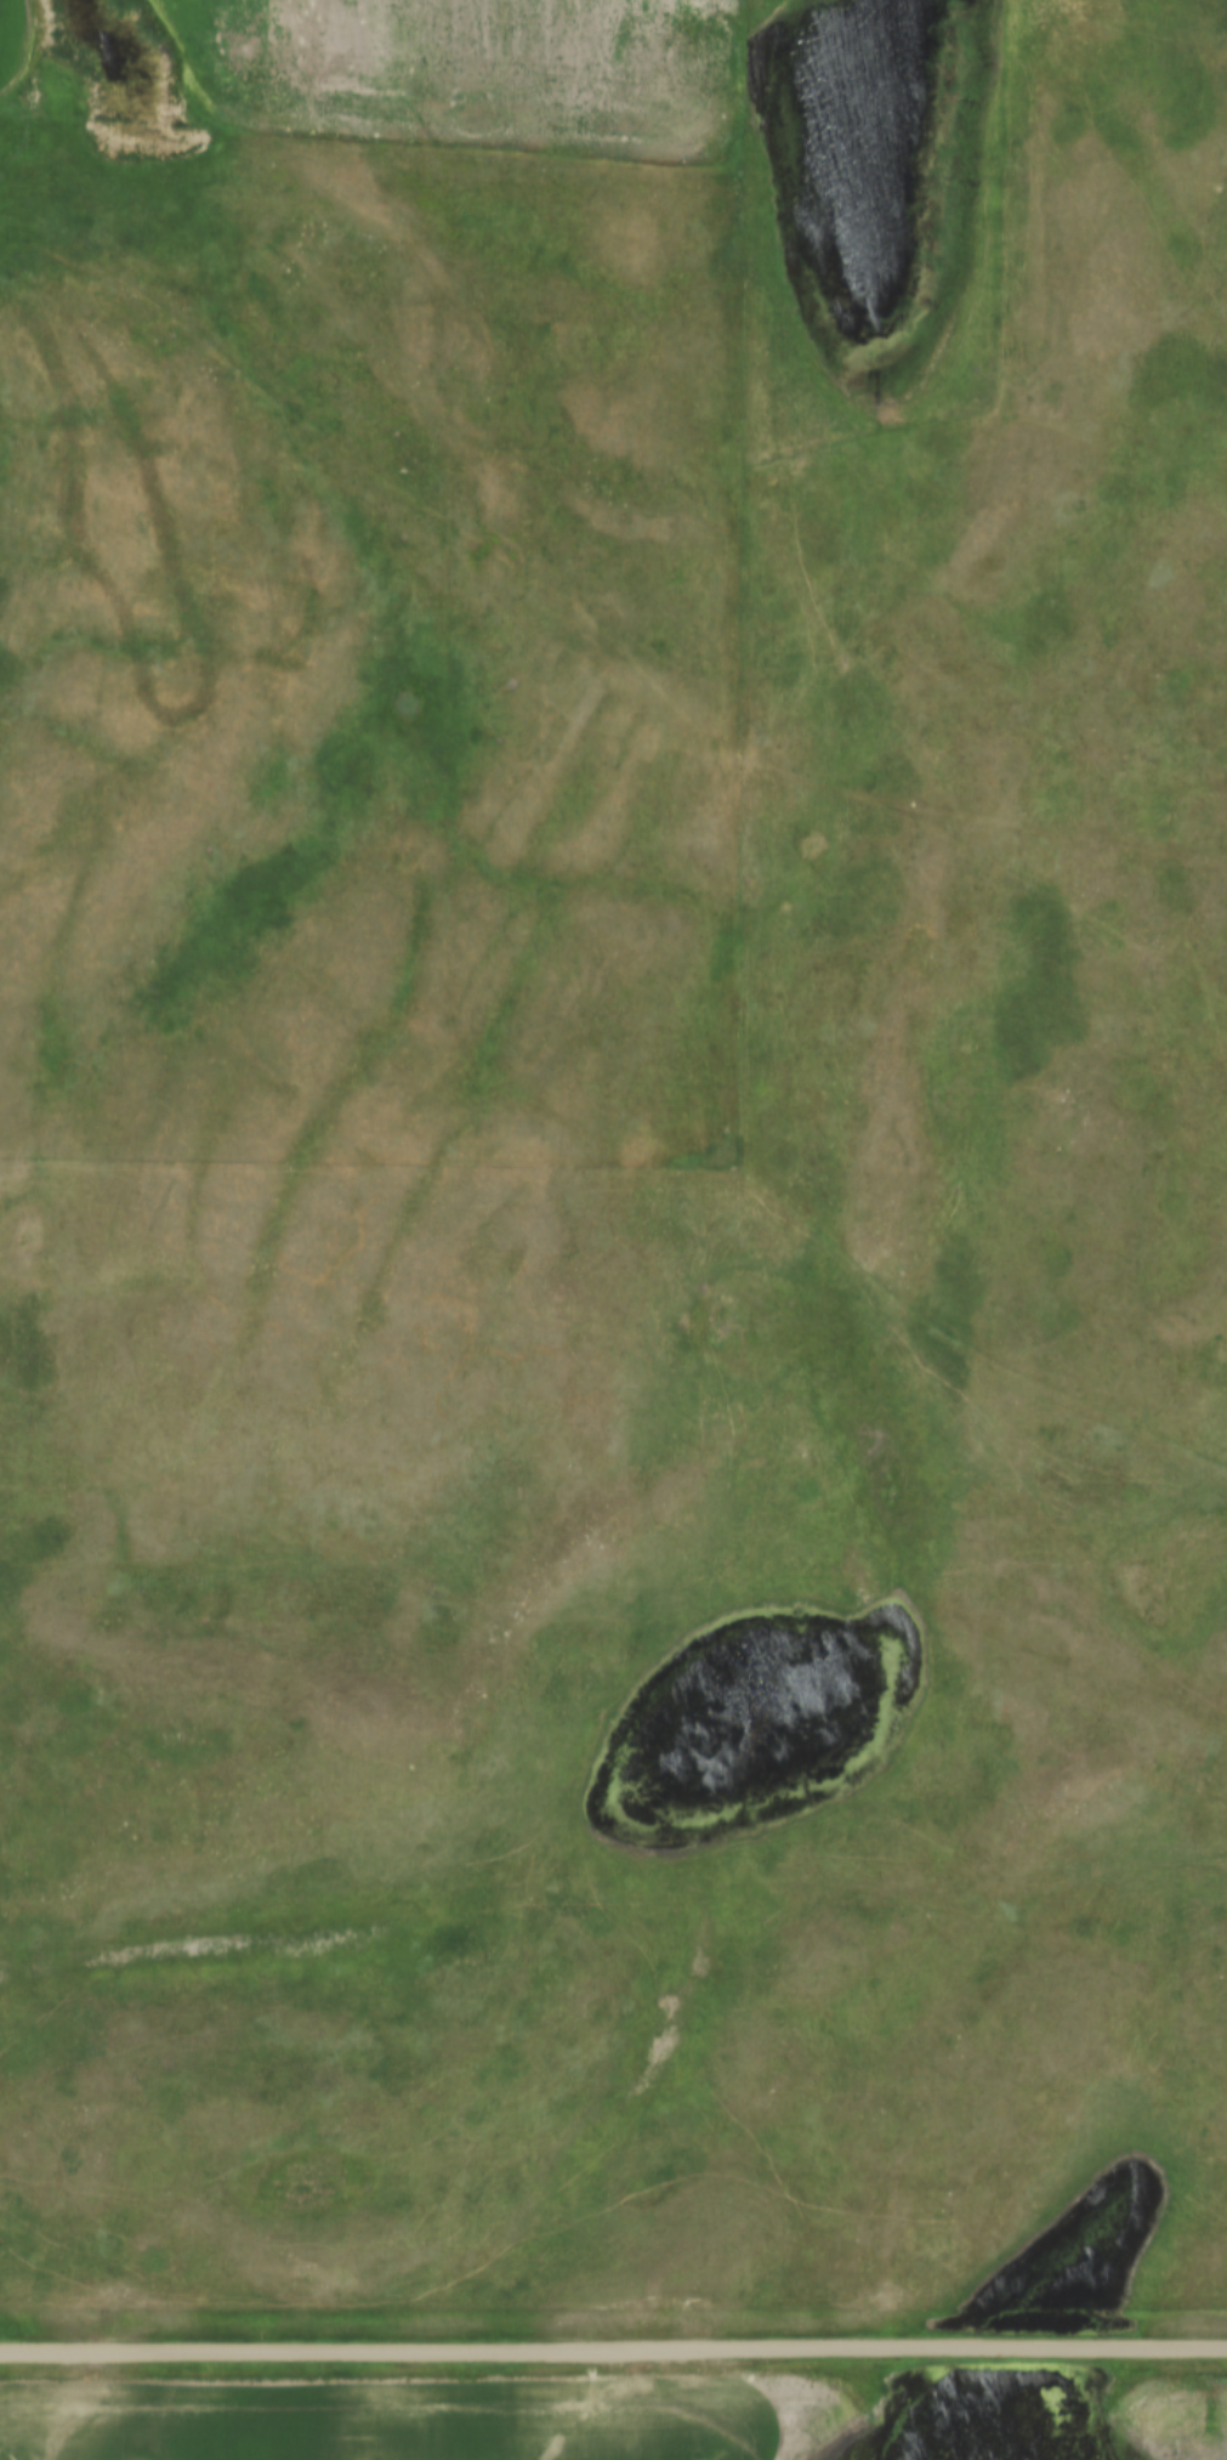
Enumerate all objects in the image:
road: (613, 2348)

